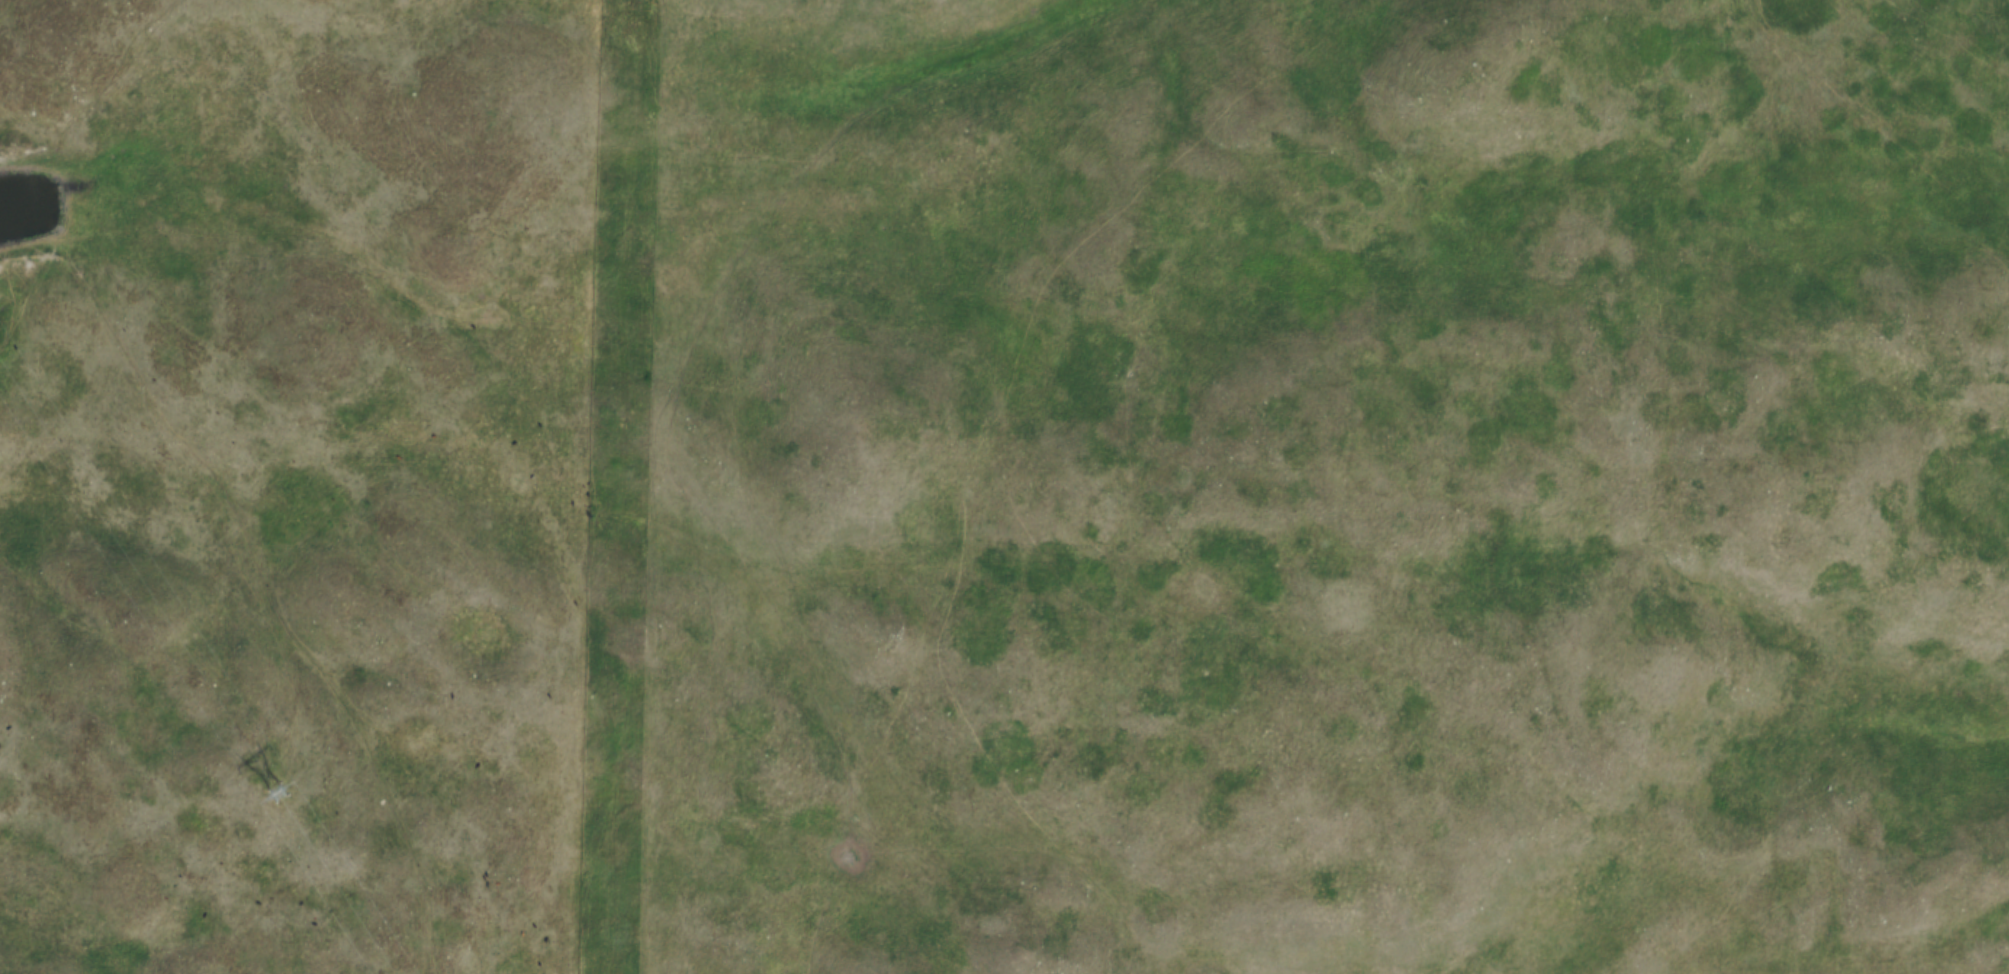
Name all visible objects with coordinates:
power tower: (274, 798)

